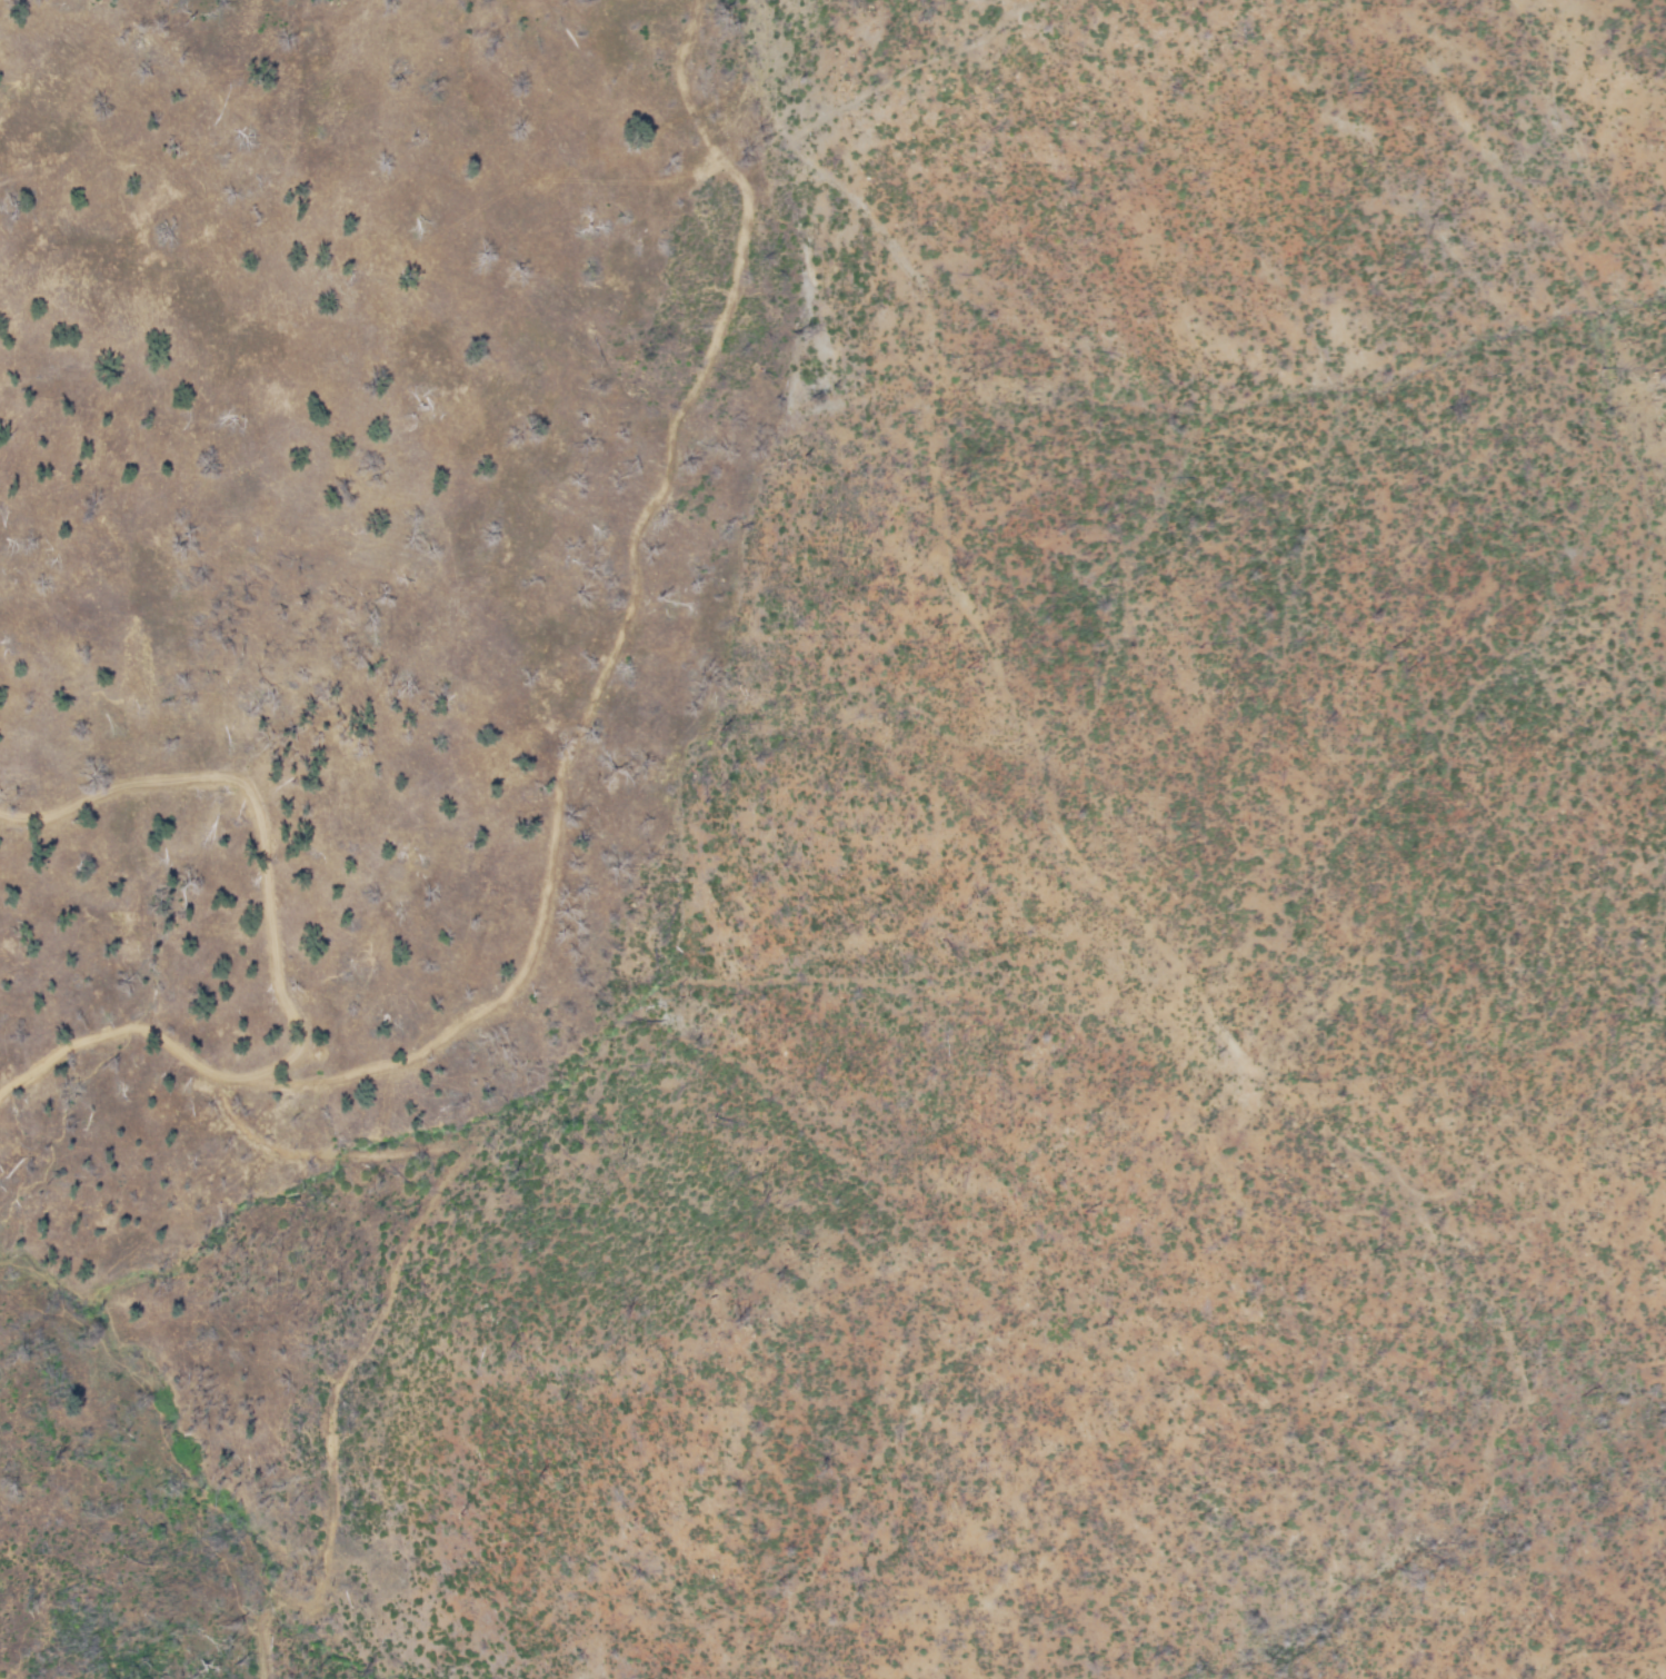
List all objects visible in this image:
road: (1115, 897)
road: (273, 966)
road: (1508, 1357)
road: (1600, 1658)

